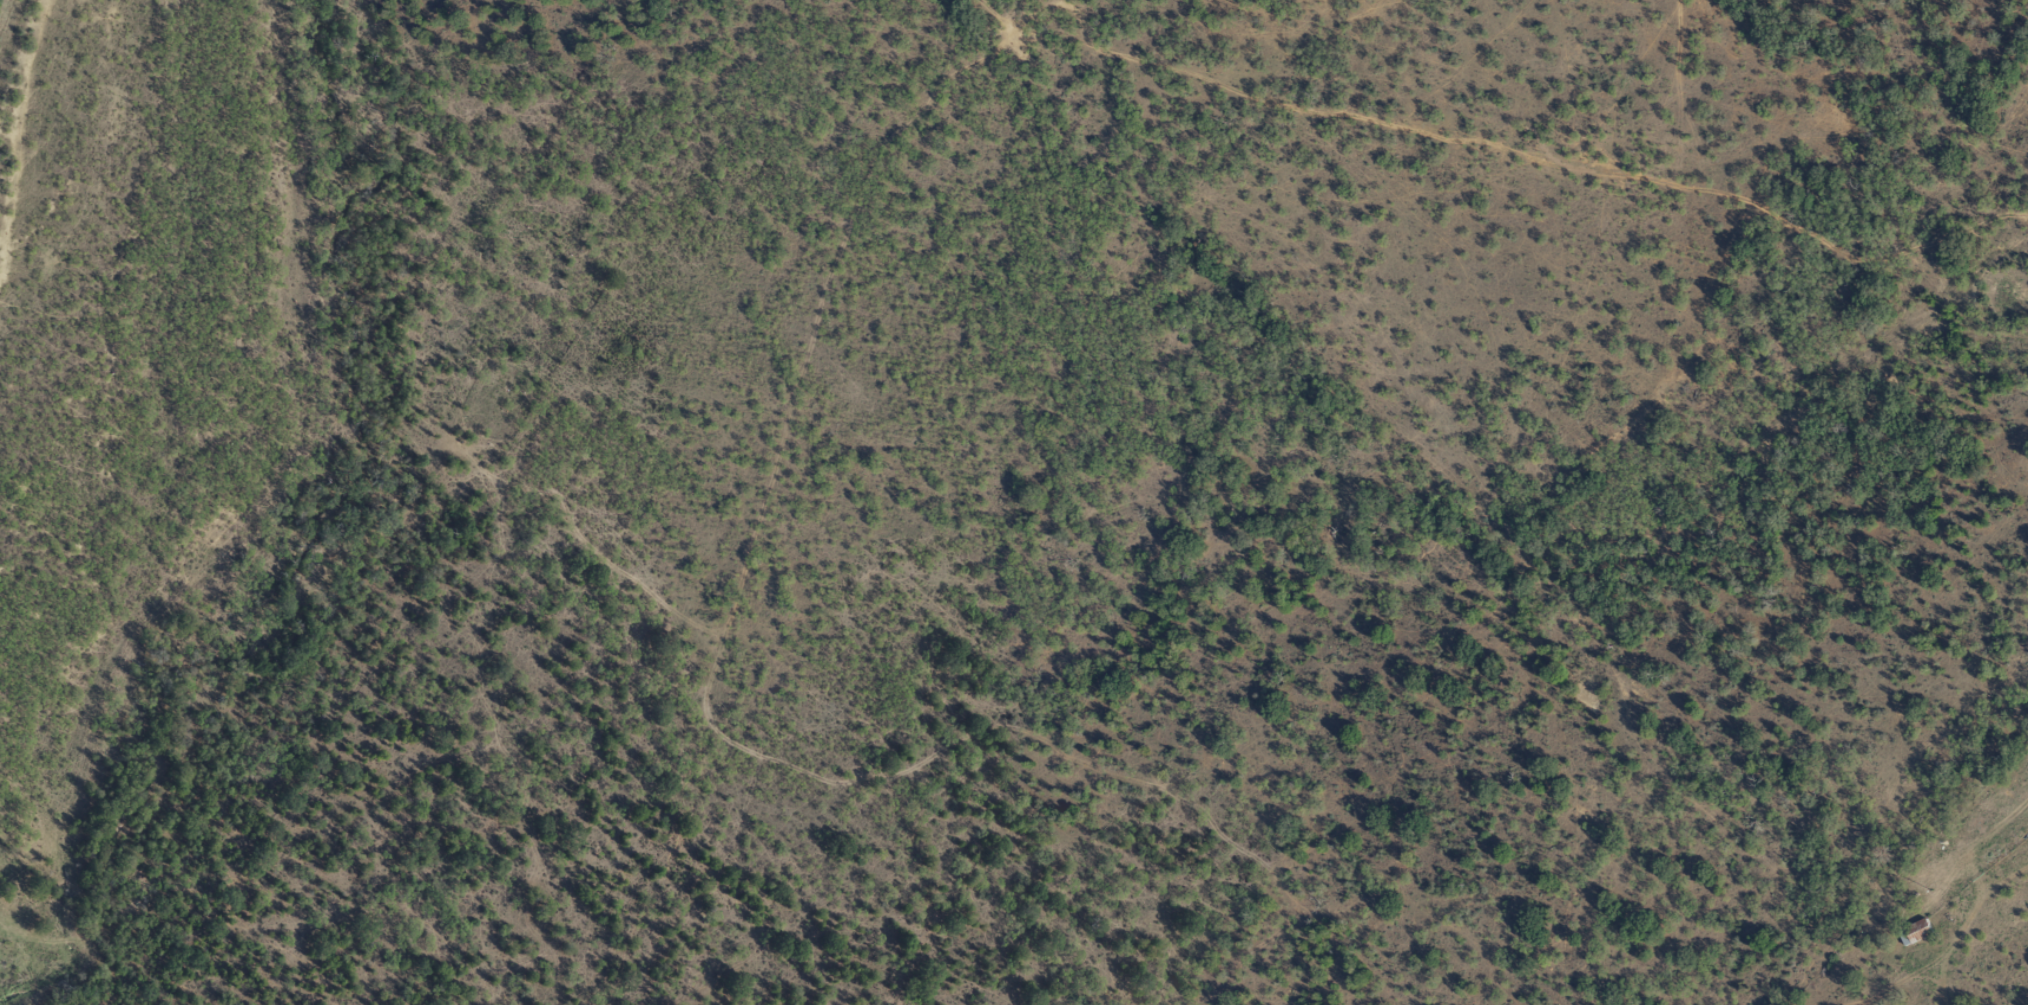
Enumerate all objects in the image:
road: (1971, 808)
building: (1910, 931)

